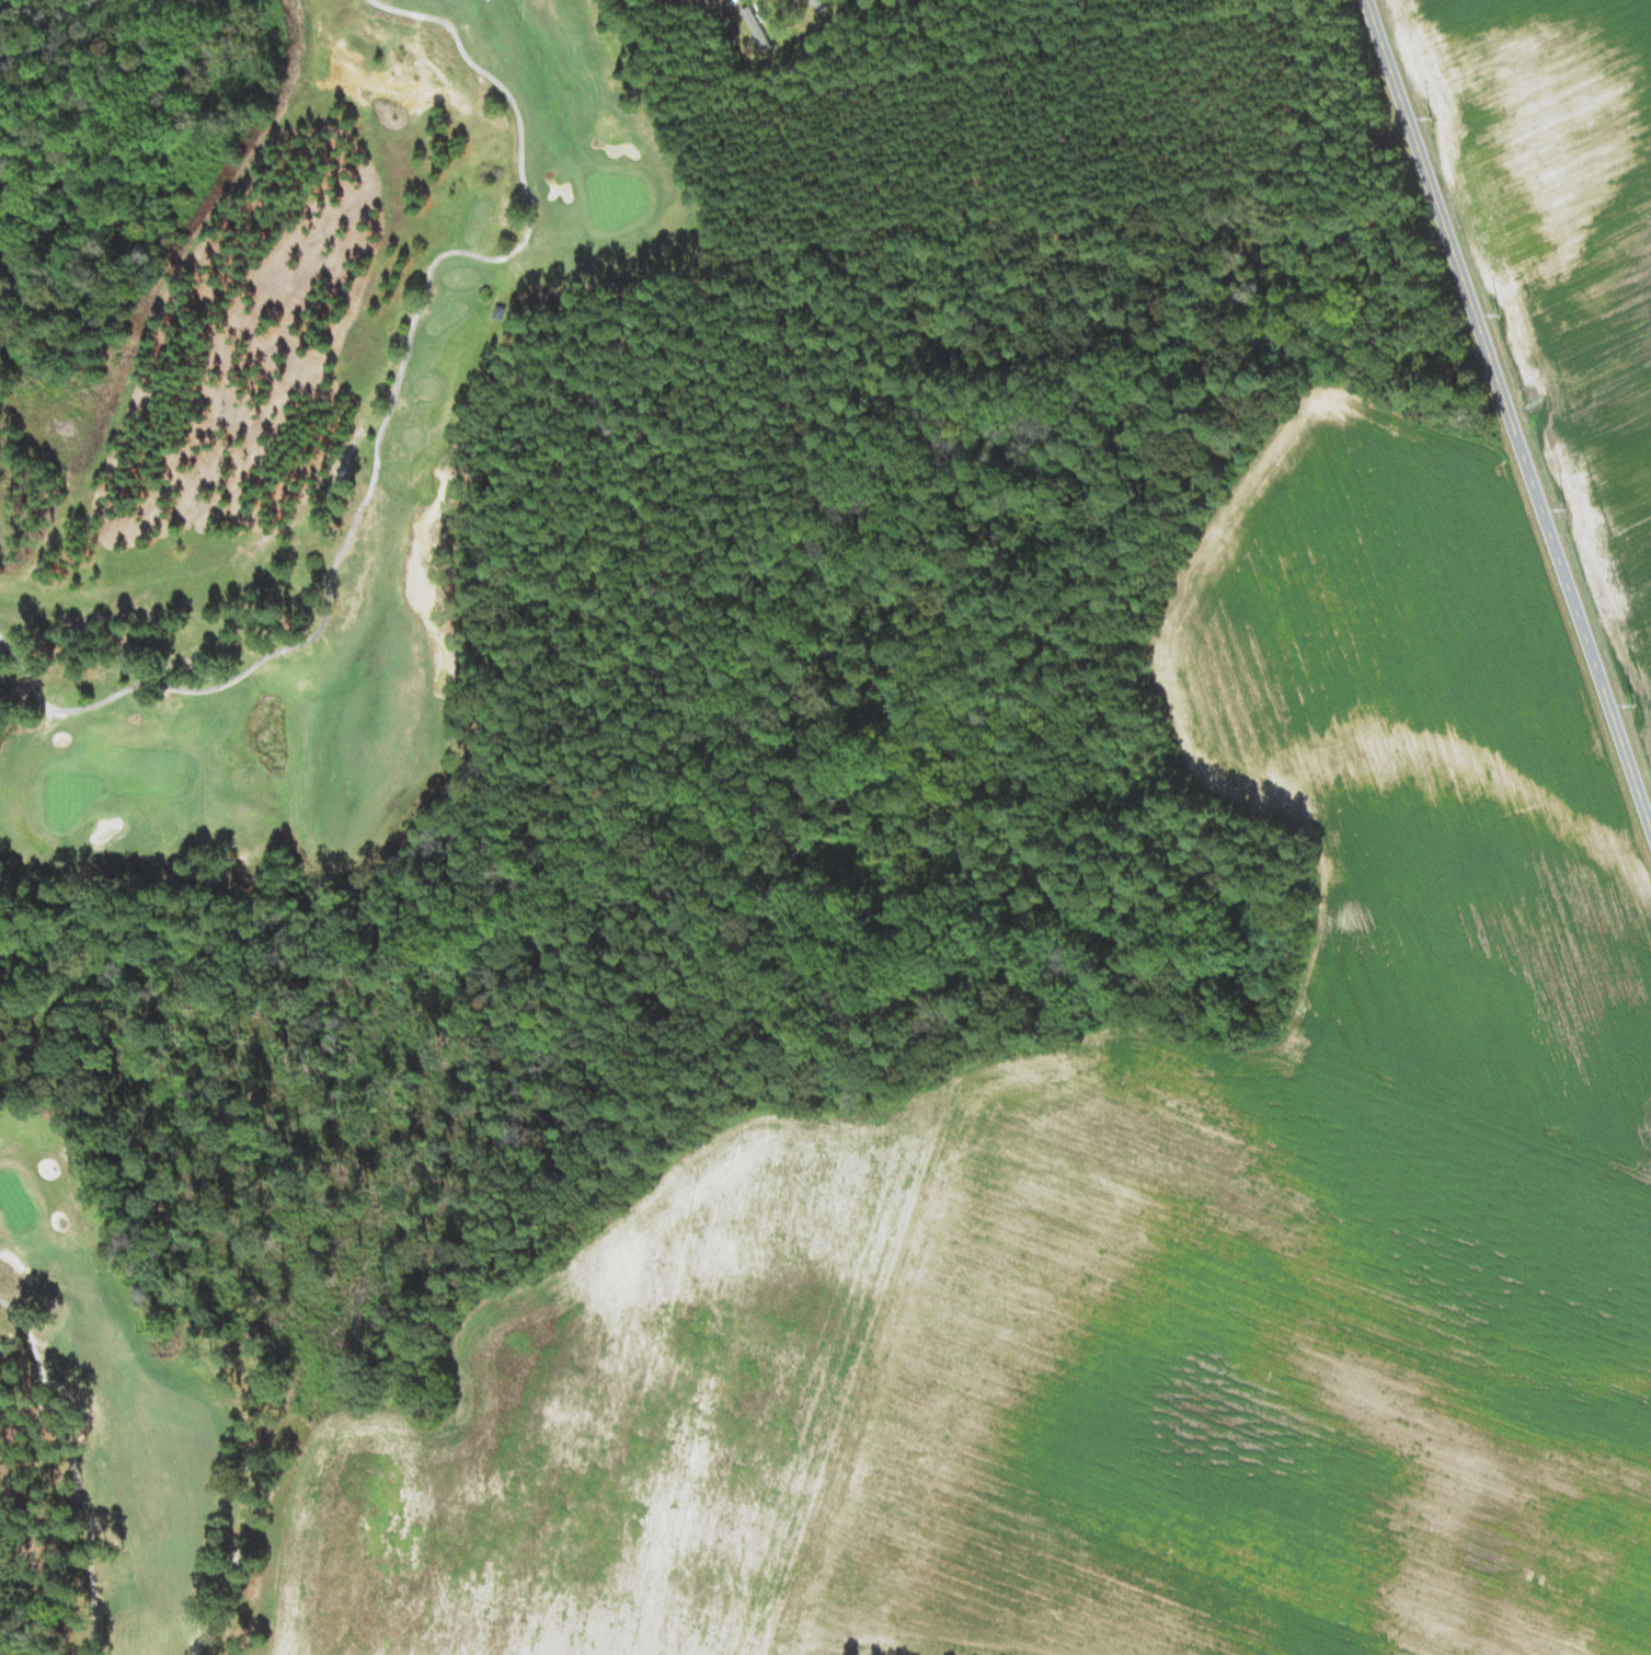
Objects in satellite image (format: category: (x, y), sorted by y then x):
building: (821, 4)
building: (757, 23)
road: (1509, 415)
park: (243, 606)

